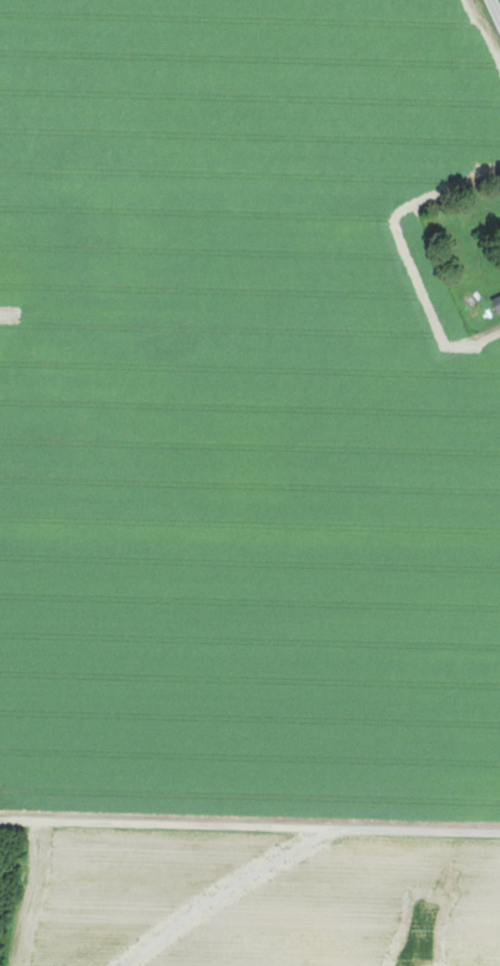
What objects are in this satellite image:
road: (495, 9)
building: (498, 301)

